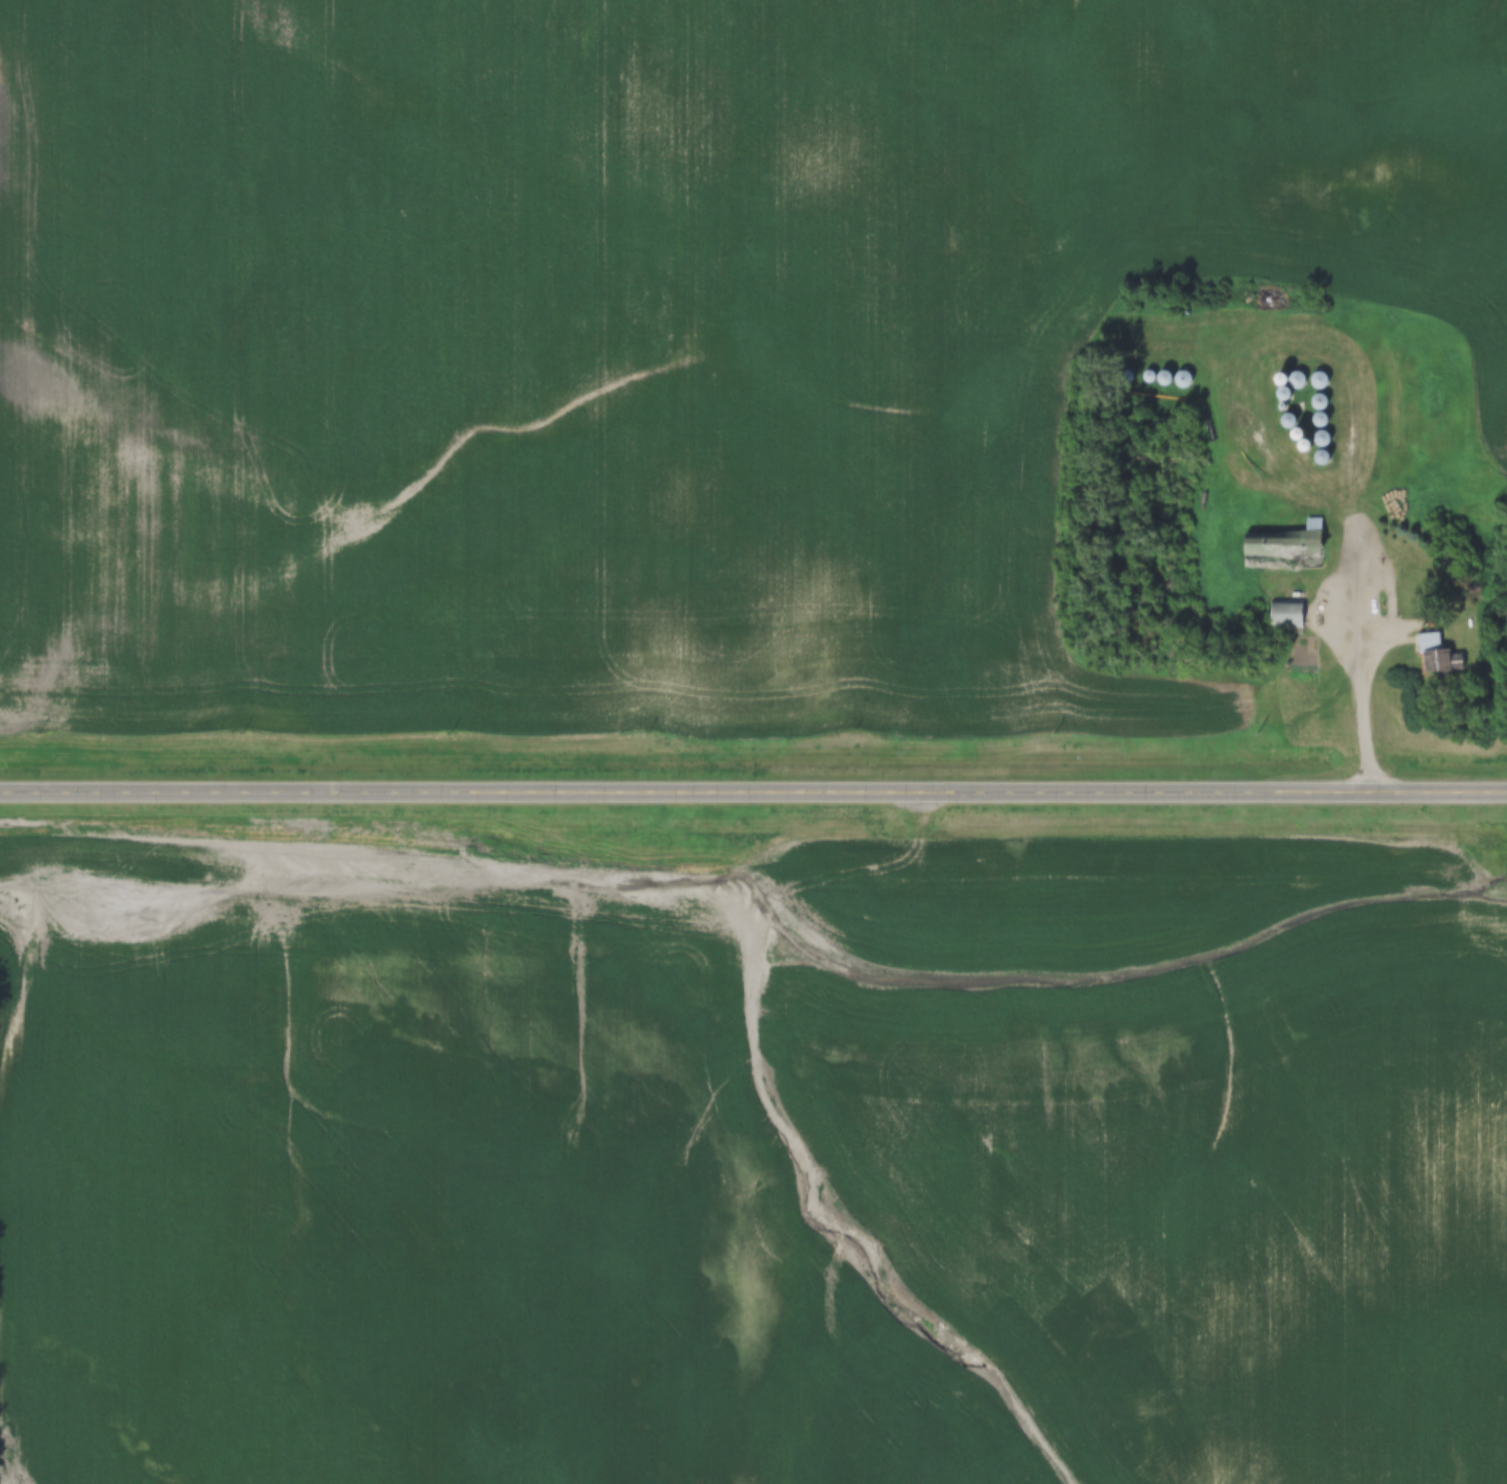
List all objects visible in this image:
building: (1296, 380)
building: (1318, 381)
building: (1318, 402)
building: (1319, 421)
building: (1287, 422)
building: (1320, 439)
building: (1283, 550)
building: (1288, 606)
building: (1437, 657)
road: (1361, 658)
road: (753, 790)

